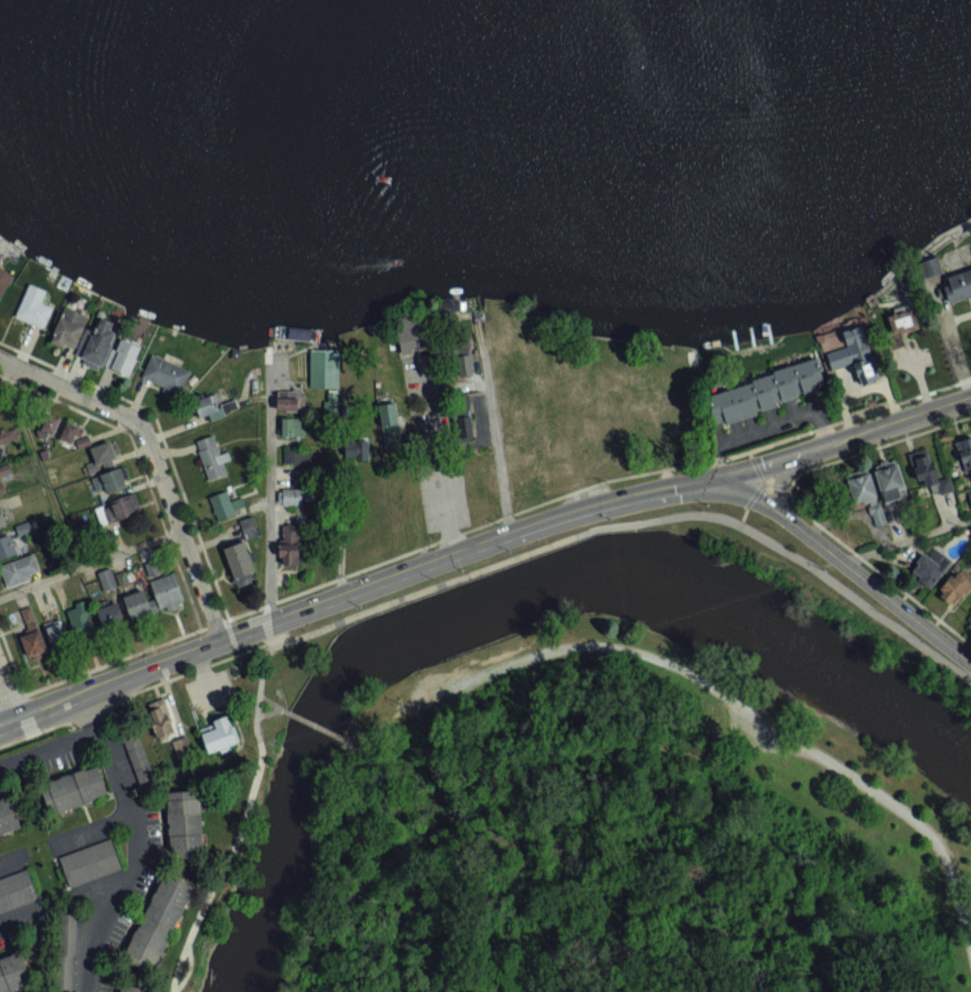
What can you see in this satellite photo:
river: (471, 48)
building: (959, 277)
building: (4, 279)
building: (494, 320)
building: (902, 324)
building: (63, 332)
building: (99, 343)
road: (950, 346)
building: (605, 355)
building: (125, 356)
building: (462, 356)
building: (856, 359)
building: (165, 375)
building: (524, 386)
building: (767, 391)
building: (290, 399)
building: (213, 405)
building: (463, 418)
road: (492, 423)
building: (390, 424)
building: (50, 425)
building: (292, 426)
building: (69, 432)
building: (596, 432)
building: (645, 433)
road: (160, 436)
road: (841, 437)
road: (560, 444)
road: (875, 445)
building: (357, 447)
building: (965, 453)
building: (296, 455)
building: (103, 456)
building: (211, 456)
road: (154, 458)
road: (438, 458)
road: (139, 463)
building: (4, 470)
building: (925, 470)
traffic signals: (711, 478)
building: (114, 479)
road: (759, 479)
road: (780, 480)
road: (774, 484)
building: (1, 486)
building: (877, 490)
road: (268, 495)
building: (297, 495)
building: (970, 495)
building: (225, 504)
building: (118, 509)
road: (741, 515)
building: (2, 517)
road: (631, 522)
road: (480, 523)
building: (249, 527)
road: (906, 538)
building: (11, 545)
building: (289, 546)
road: (88, 562)
building: (241, 563)
road: (845, 564)
road: (875, 568)
building: (930, 568)
building: (20, 570)
building: (107, 579)
building: (954, 588)
road: (352, 590)
building: (155, 598)
river: (508, 598)
building: (111, 614)
building: (80, 619)
building: (970, 625)
building: (57, 633)
road: (10, 664)
road: (131, 691)
road: (707, 692)
road: (7, 696)
road: (281, 708)
building: (161, 718)
road: (313, 723)
building: (219, 734)
road: (48, 749)
building: (139, 756)
building: (75, 790)
building: (9, 817)
building: (185, 825)
road: (240, 825)
road: (91, 826)
park: (624, 834)
road: (135, 843)
road: (10, 857)
building: (90, 863)
building: (16, 891)
road: (17, 917)
building: (160, 918)
building: (66, 953)
building: (14, 974)
building: (134, 988)

